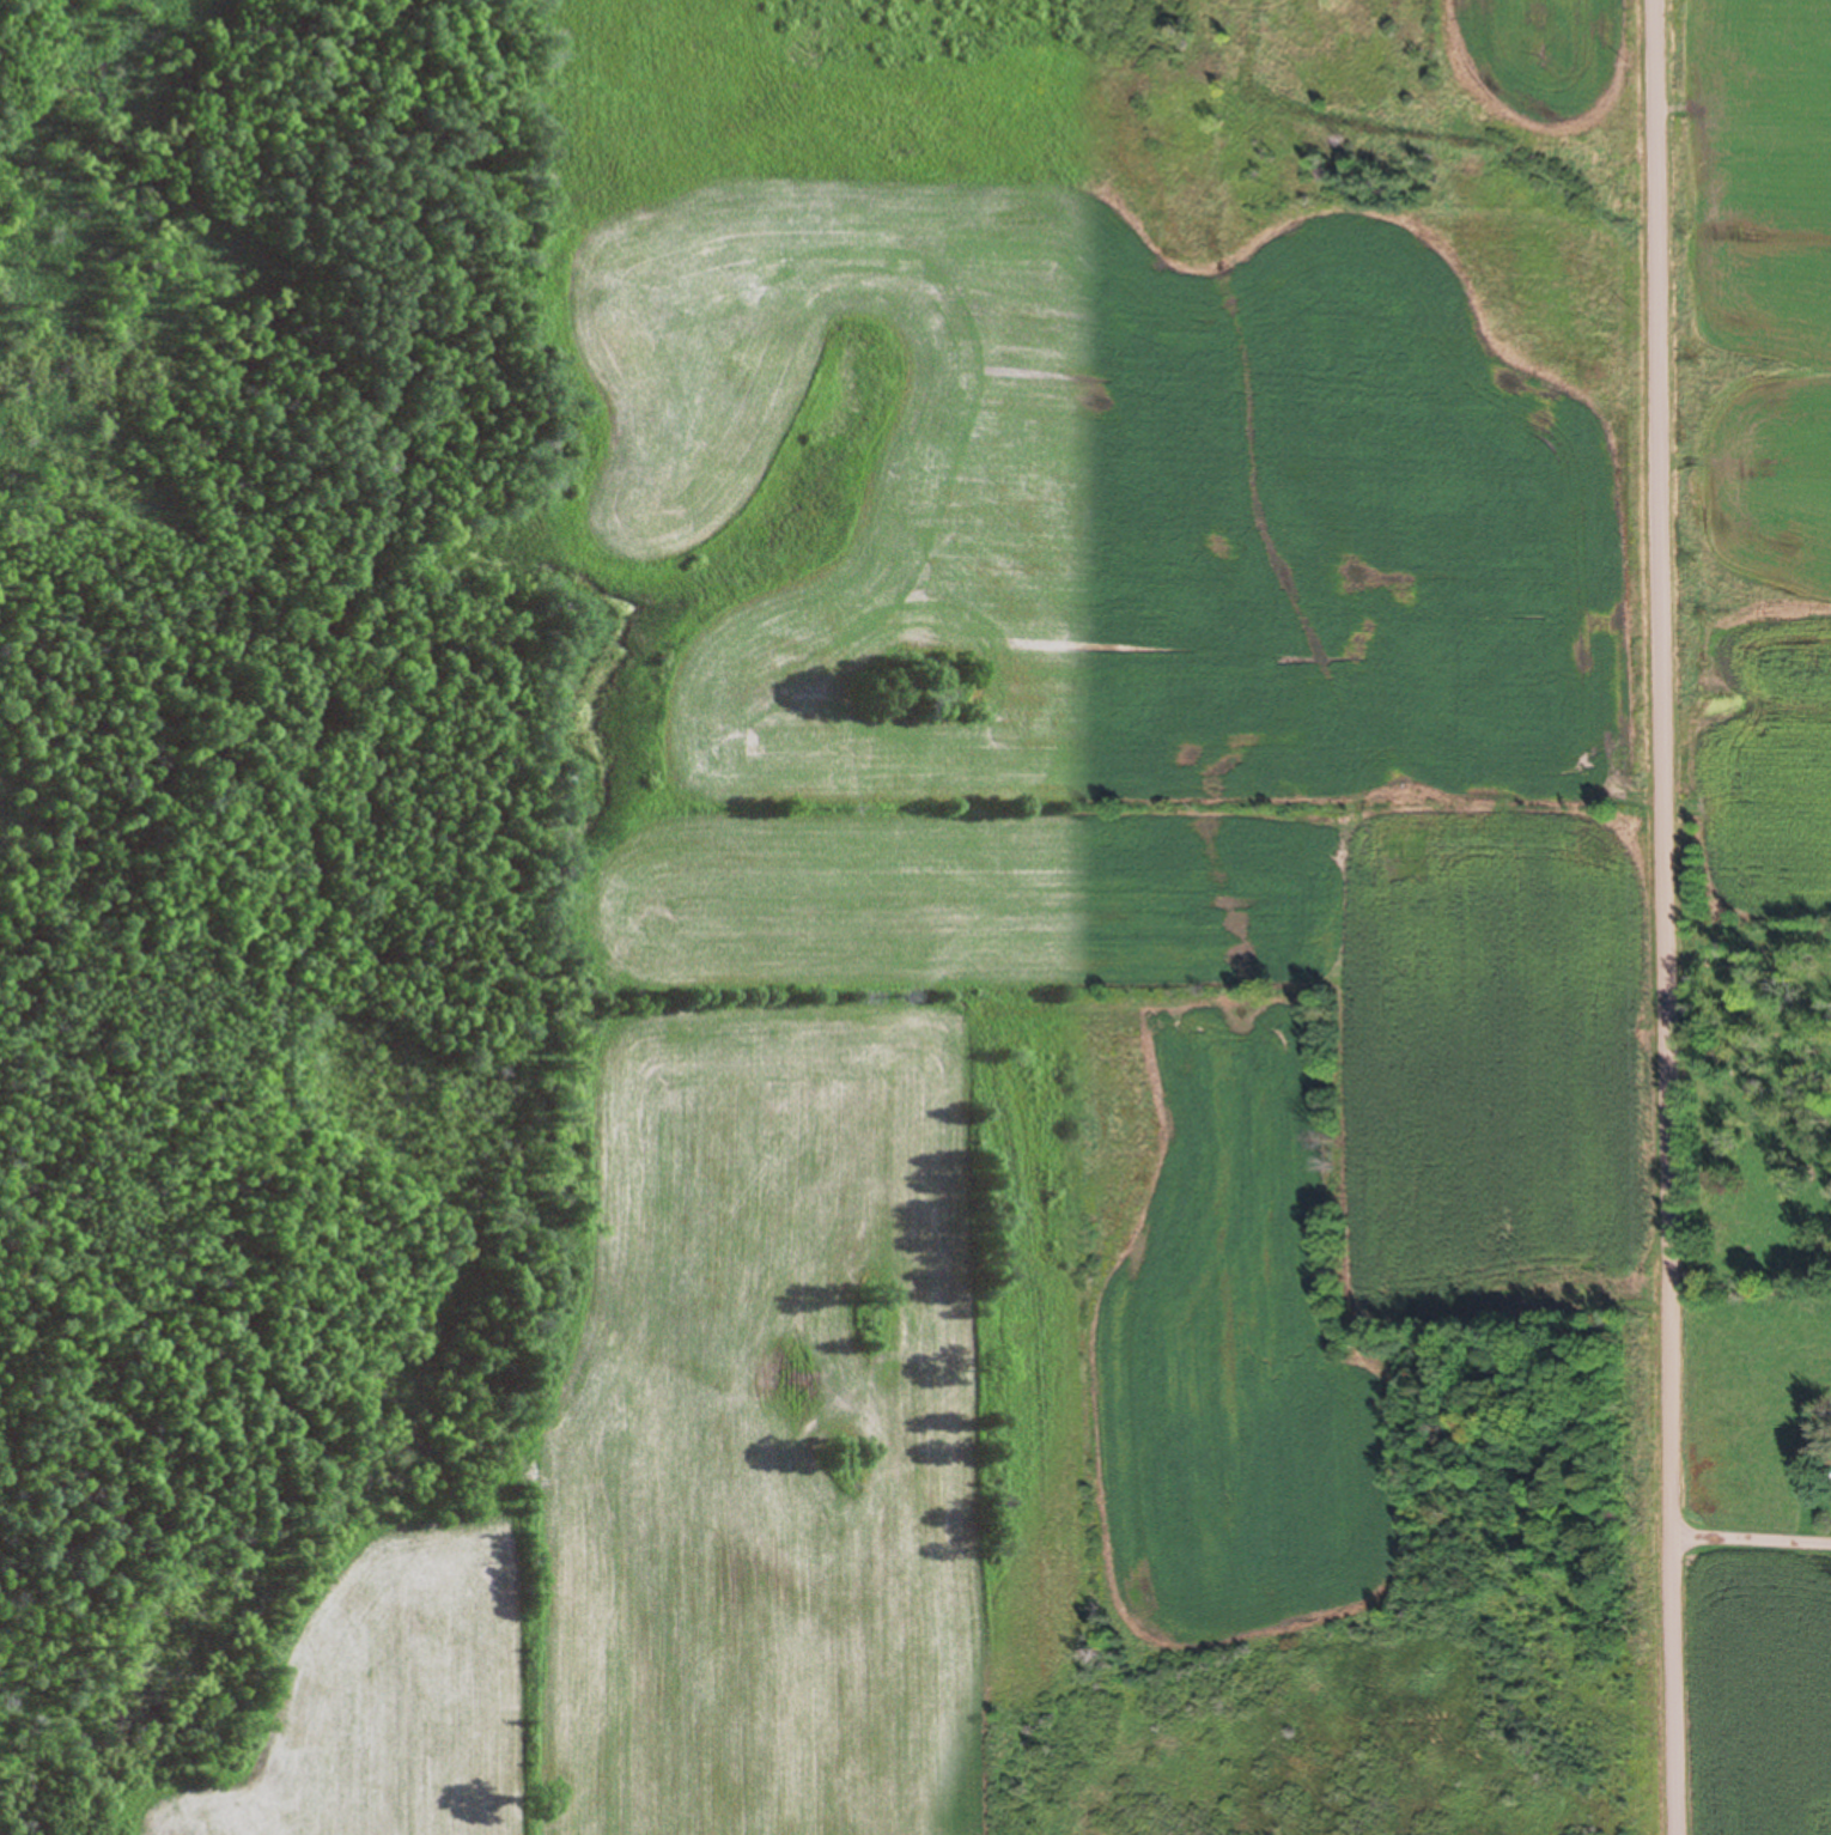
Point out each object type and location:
road: (1685, 917)

